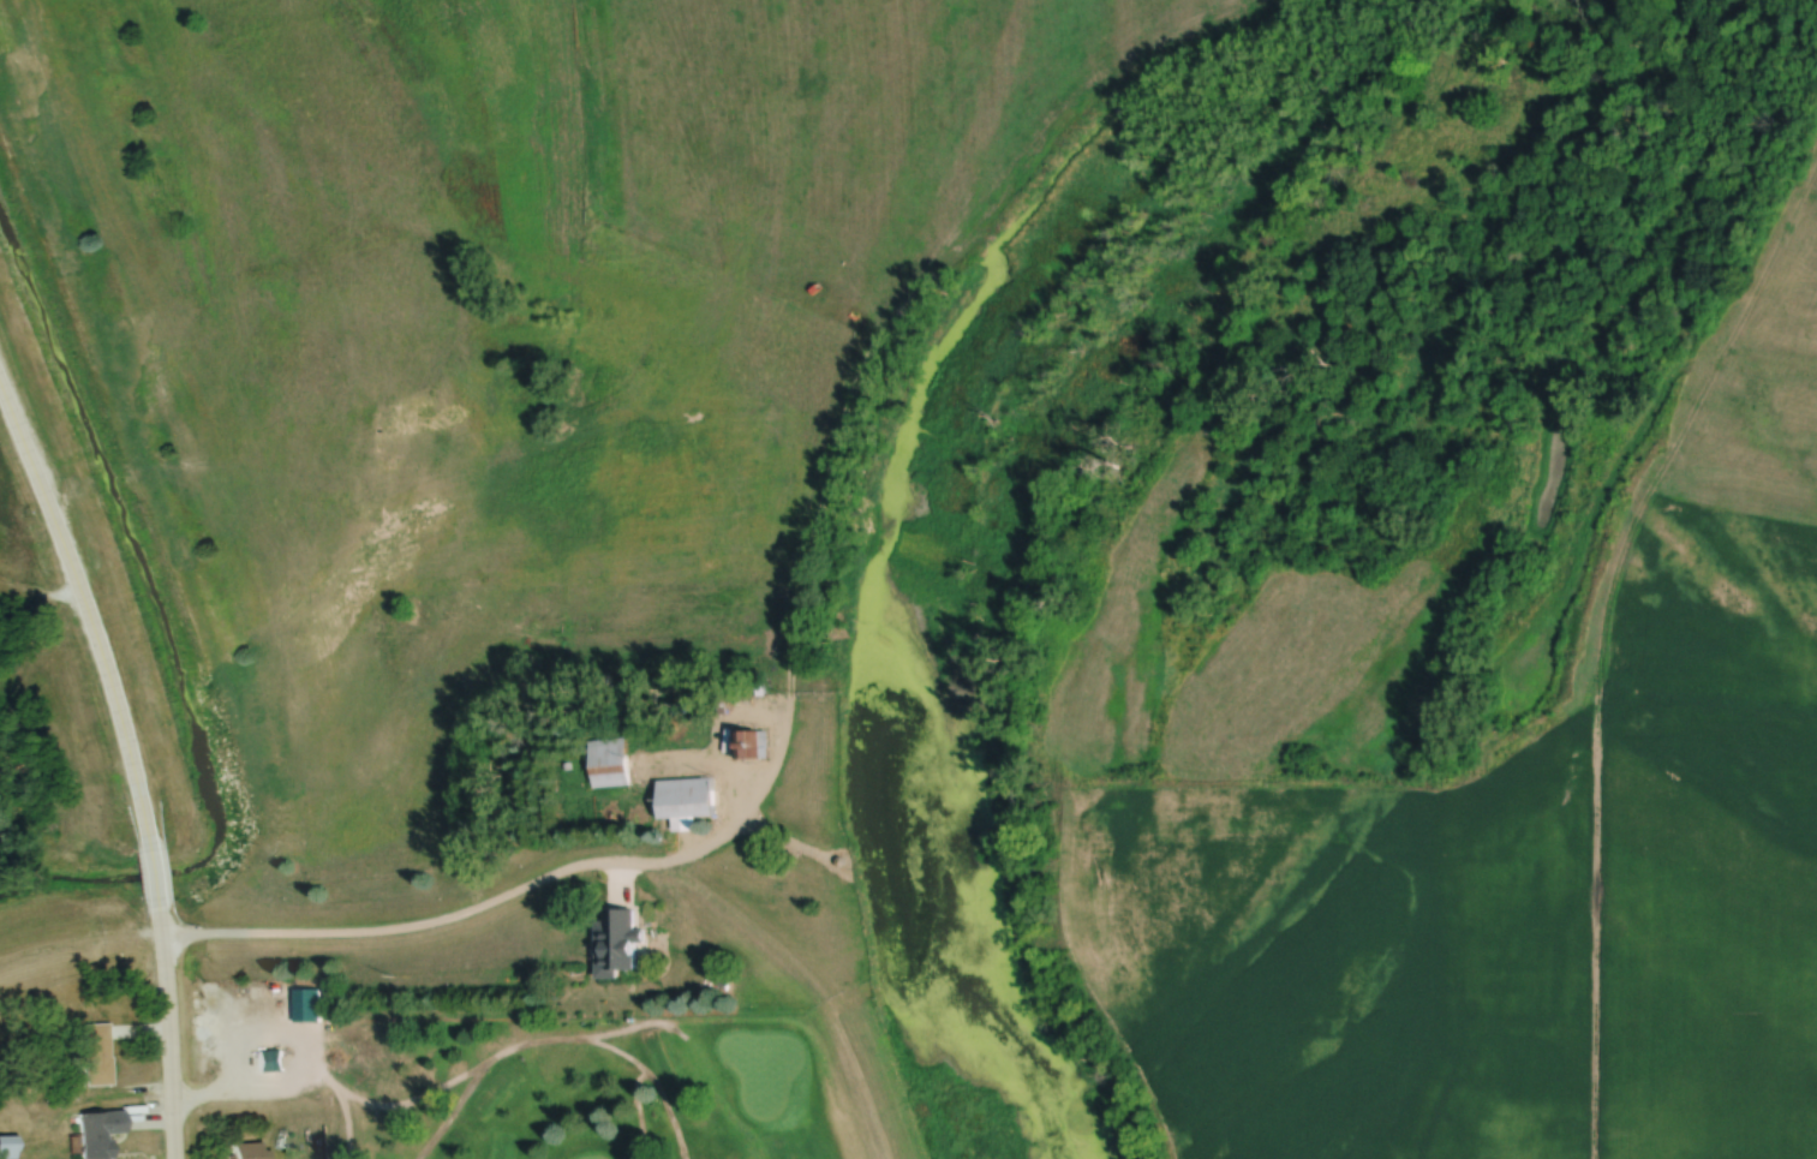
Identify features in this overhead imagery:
road: (85, 614)
building: (609, 763)
building: (687, 799)
road: (1576, 818)
road: (148, 872)
road: (414, 933)
building: (622, 933)
road: (808, 986)
building: (309, 1006)
road: (166, 1030)
building: (96, 1055)
building: (270, 1061)
park: (651, 1093)
building: (100, 1134)
building: (7, 1148)
building: (244, 1151)

